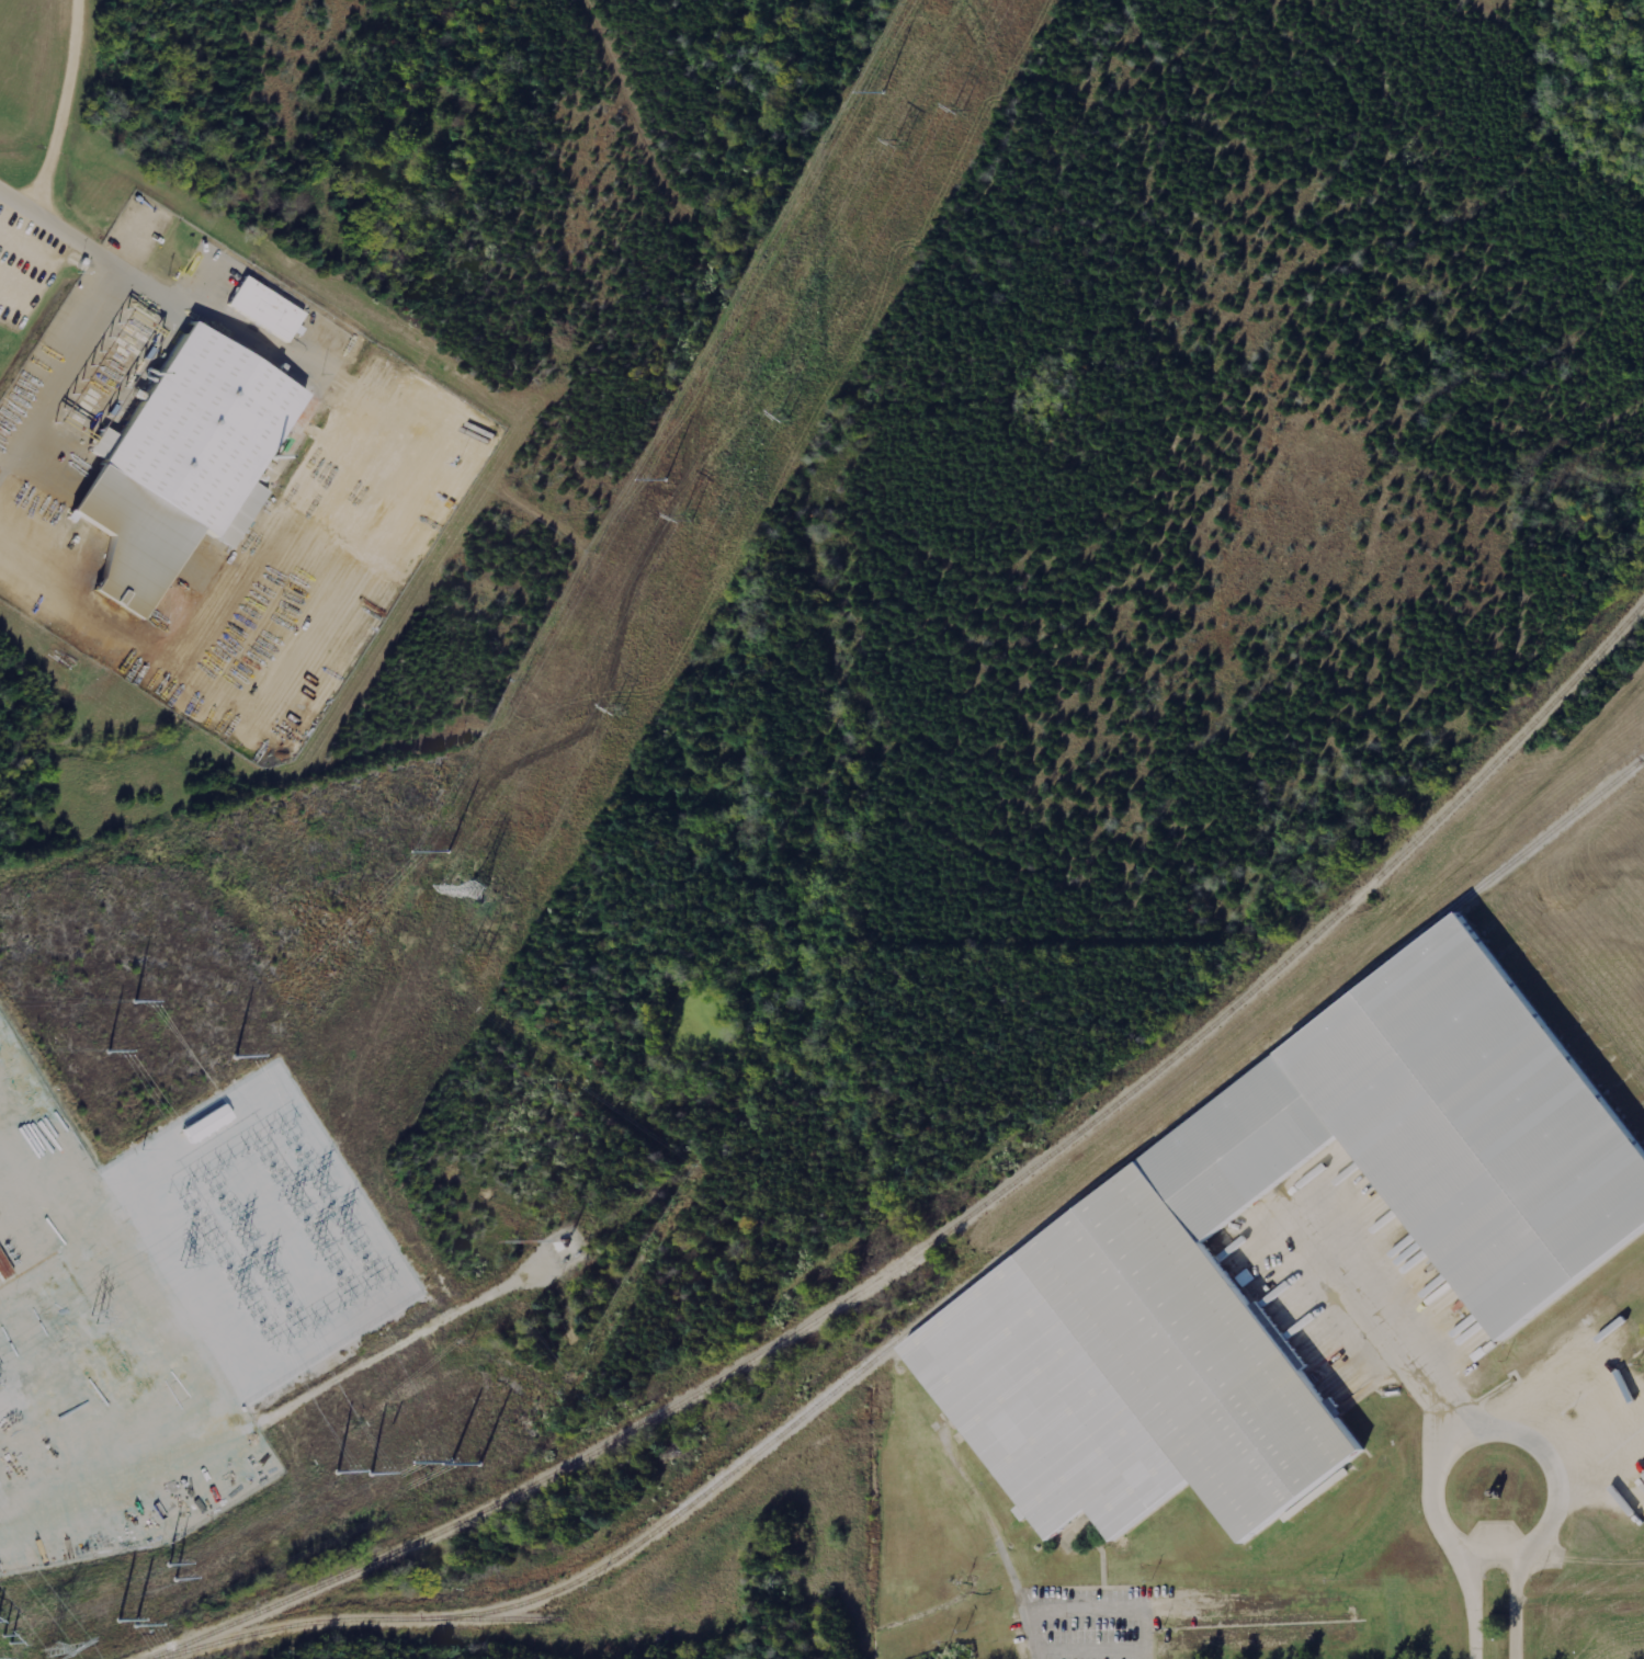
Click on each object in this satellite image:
building: (270, 309)
building: (190, 463)
building: (212, 1124)
railway: (959, 1217)
building: (1531, 1234)
building: (1246, 1277)
railway: (944, 1304)
power substation: (166, 1308)
building: (1632, 1486)
road: (1563, 1500)
road: (1095, 1604)
road: (1523, 1604)
road: (1483, 1606)
power tower: (129, 1625)
road: (1098, 1645)
power tower: (54, 1651)

